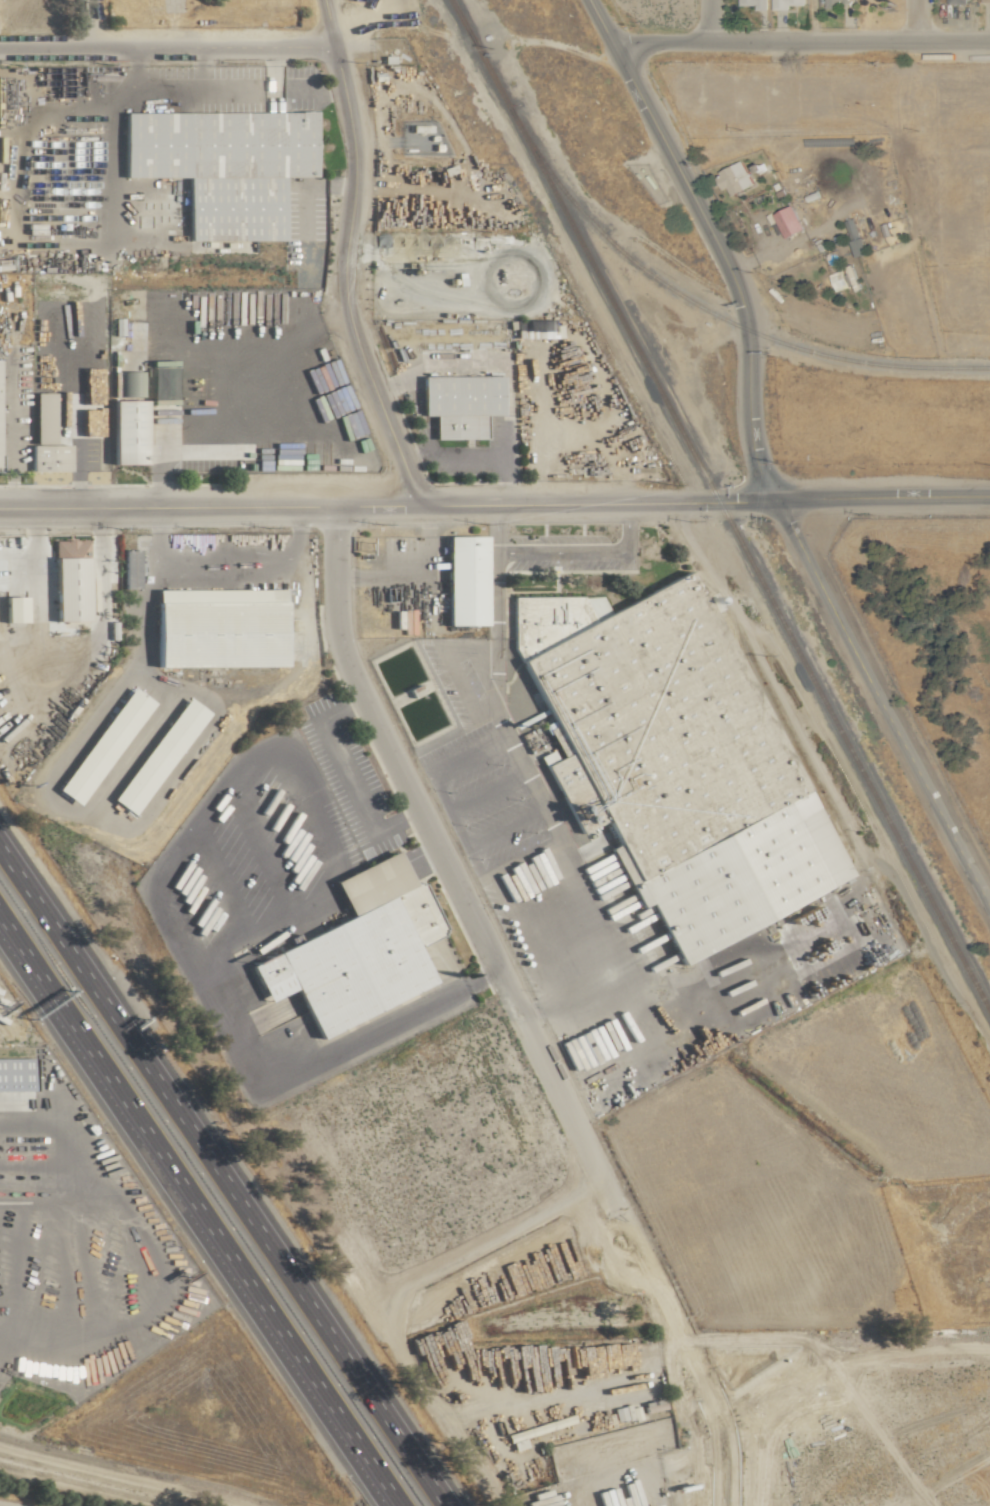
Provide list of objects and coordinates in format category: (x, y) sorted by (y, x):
building: (985, 0)
building: (956, 1)
building: (832, 3)
building: (753, 4)
building: (784, 4)
road: (601, 21)
road: (708, 21)
railway: (464, 22)
road: (807, 22)
road: (87, 23)
road: (914, 23)
road: (801, 43)
road: (166, 46)
road: (166, 87)
road: (316, 92)
building: (221, 166)
building: (733, 178)
building: (786, 221)
building: (857, 247)
road: (343, 257)
road: (726, 262)
building: (838, 280)
railway: (708, 313)
building: (531, 329)
building: (458, 405)
road: (248, 411)
building: (125, 431)
building: (45, 437)
road: (882, 496)
road: (597, 503)
railway: (721, 505)
road: (209, 506)
road: (495, 529)
road: (33, 531)
road: (70, 552)
road: (584, 552)
building: (129, 568)
building: (68, 579)
building: (463, 580)
road: (495, 595)
building: (1, 624)
building: (216, 627)
building: (619, 645)
road: (449, 670)
road: (882, 702)
building: (101, 746)
building: (156, 755)
road: (360, 794)
road: (445, 811)
road: (565, 855)
building: (743, 855)
road: (457, 891)
road: (506, 905)
building: (355, 949)
road: (206, 973)
building: (15, 1072)
road: (13, 1105)
road: (222, 1175)
road: (195, 1215)
road: (608, 1265)
road: (690, 1378)
road: (590, 1385)
road: (634, 1472)
building: (654, 1505)

